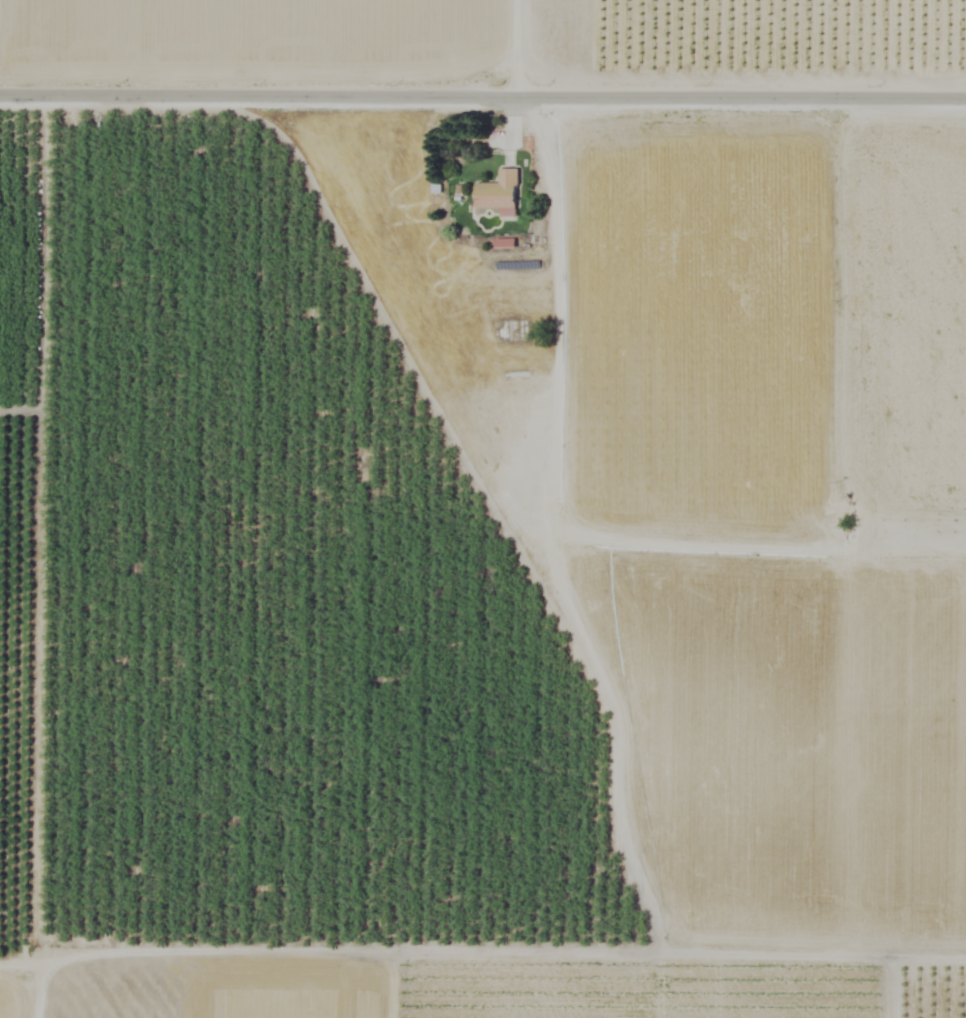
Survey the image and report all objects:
road: (517, 47)
road: (483, 95)
building: (497, 194)
building: (503, 243)
crop: (483, 509)

